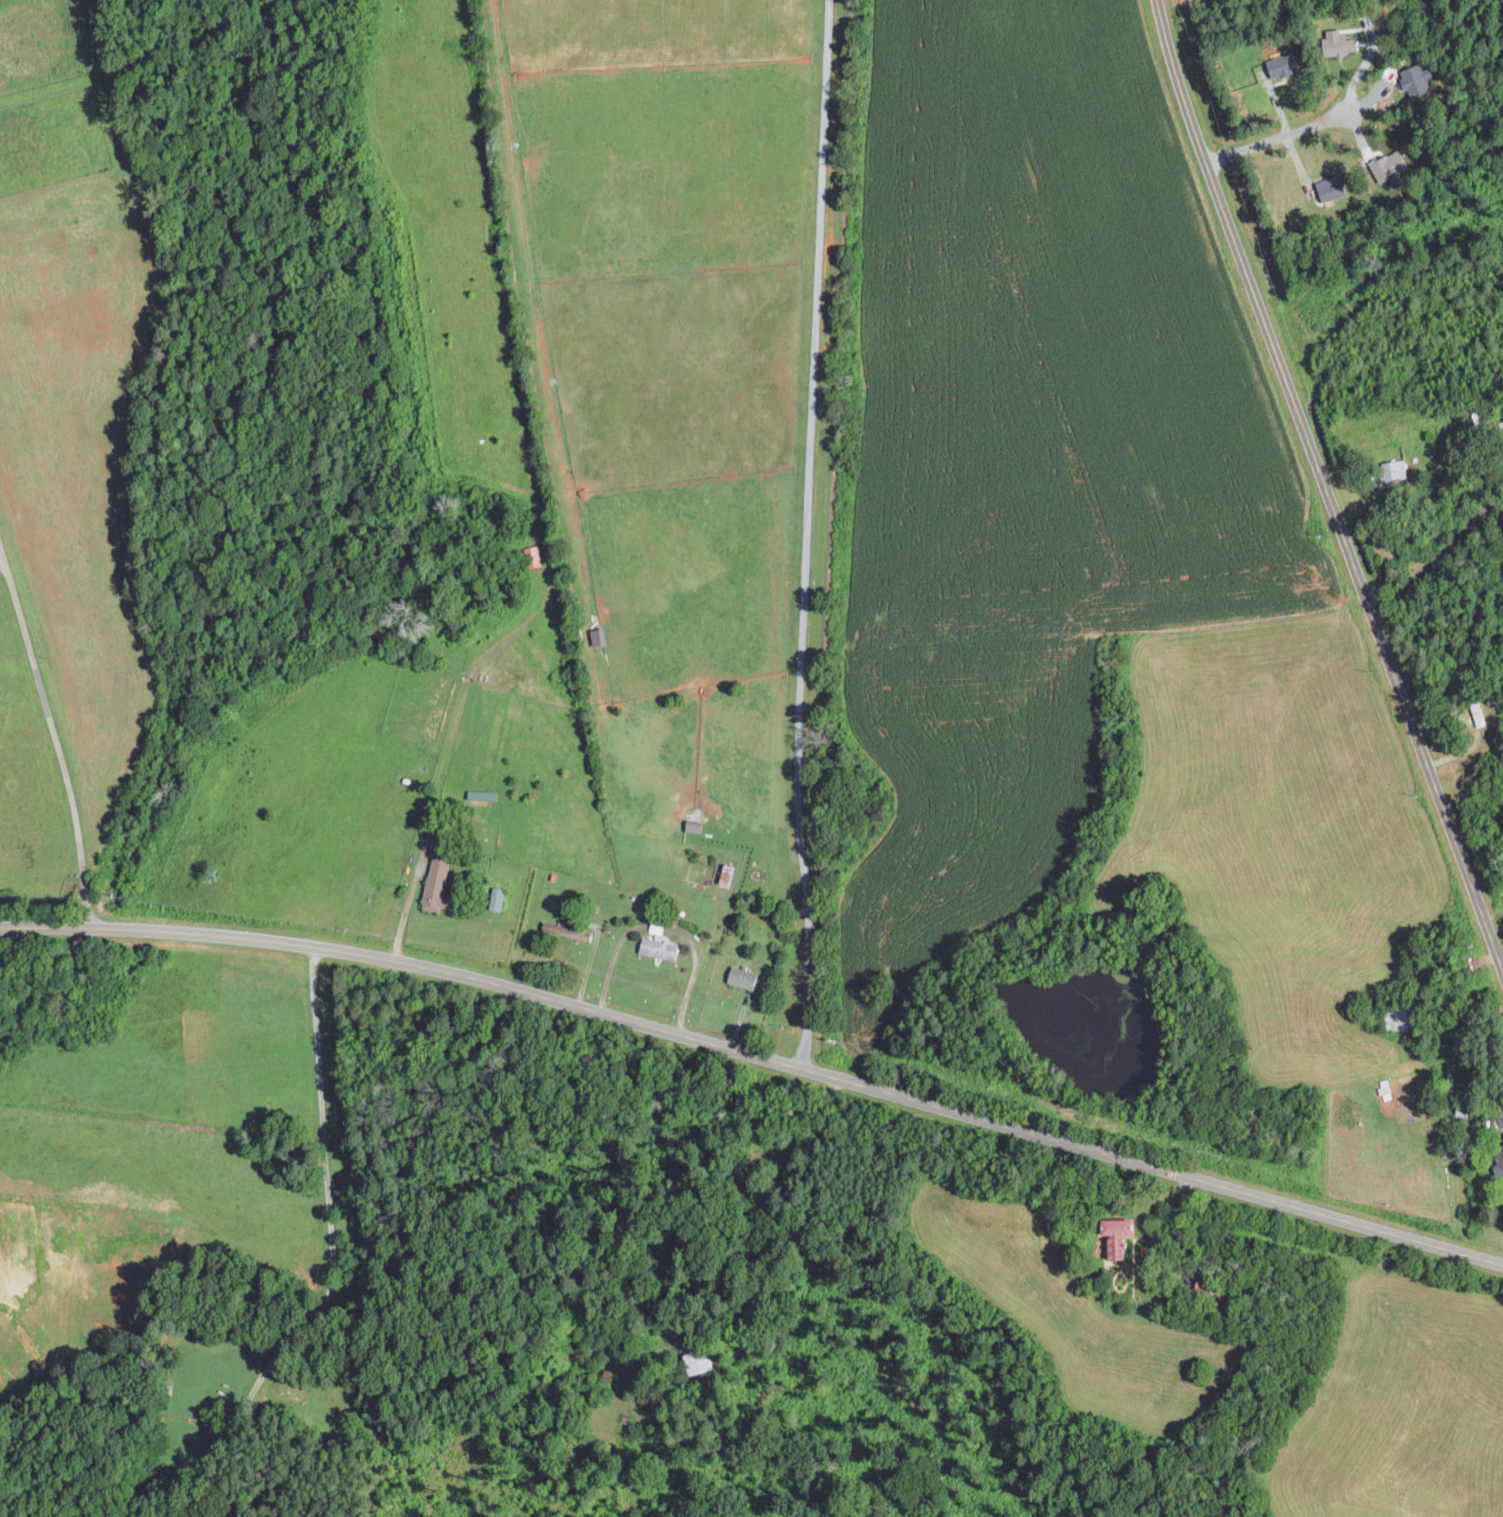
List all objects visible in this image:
building: (1285, 64)
building: (1415, 78)
road: (1278, 137)
building: (1394, 166)
building: (1333, 187)
building: (1398, 467)
road: (1325, 485)
road: (807, 534)
road: (1438, 556)
road: (55, 736)
building: (438, 882)
building: (499, 897)
road: (402, 906)
road: (658, 926)
building: (661, 947)
road: (613, 958)
road: (694, 973)
building: (744, 976)
road: (758, 1056)
building: (1122, 1233)
road: (330, 1252)
road: (1177, 1252)
building: (698, 1361)

